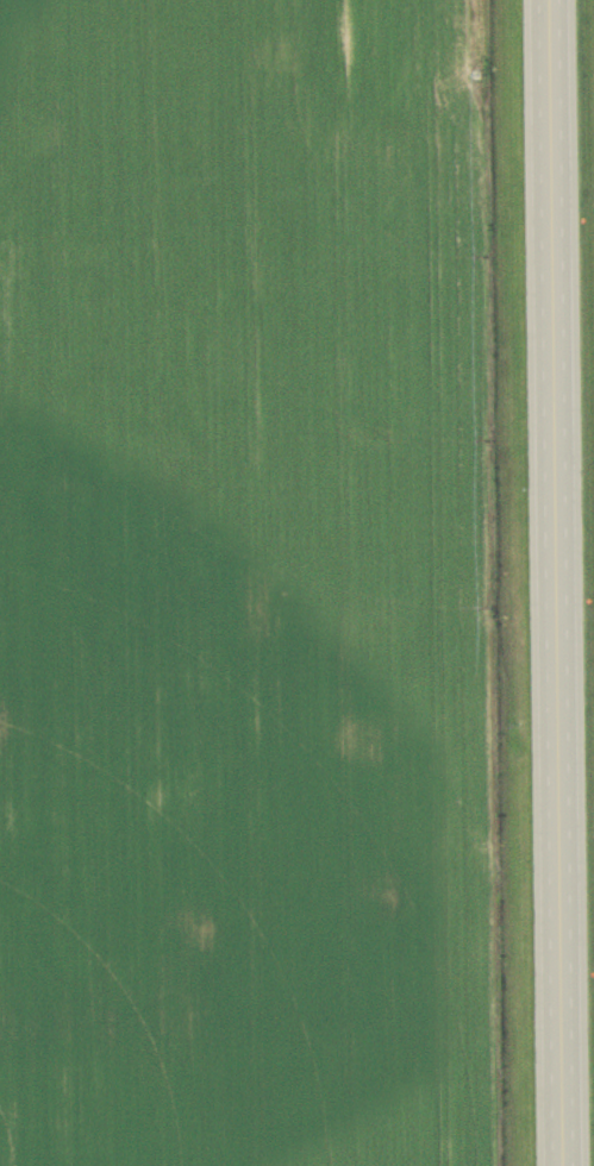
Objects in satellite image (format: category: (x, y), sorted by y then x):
road: (555, 583)

